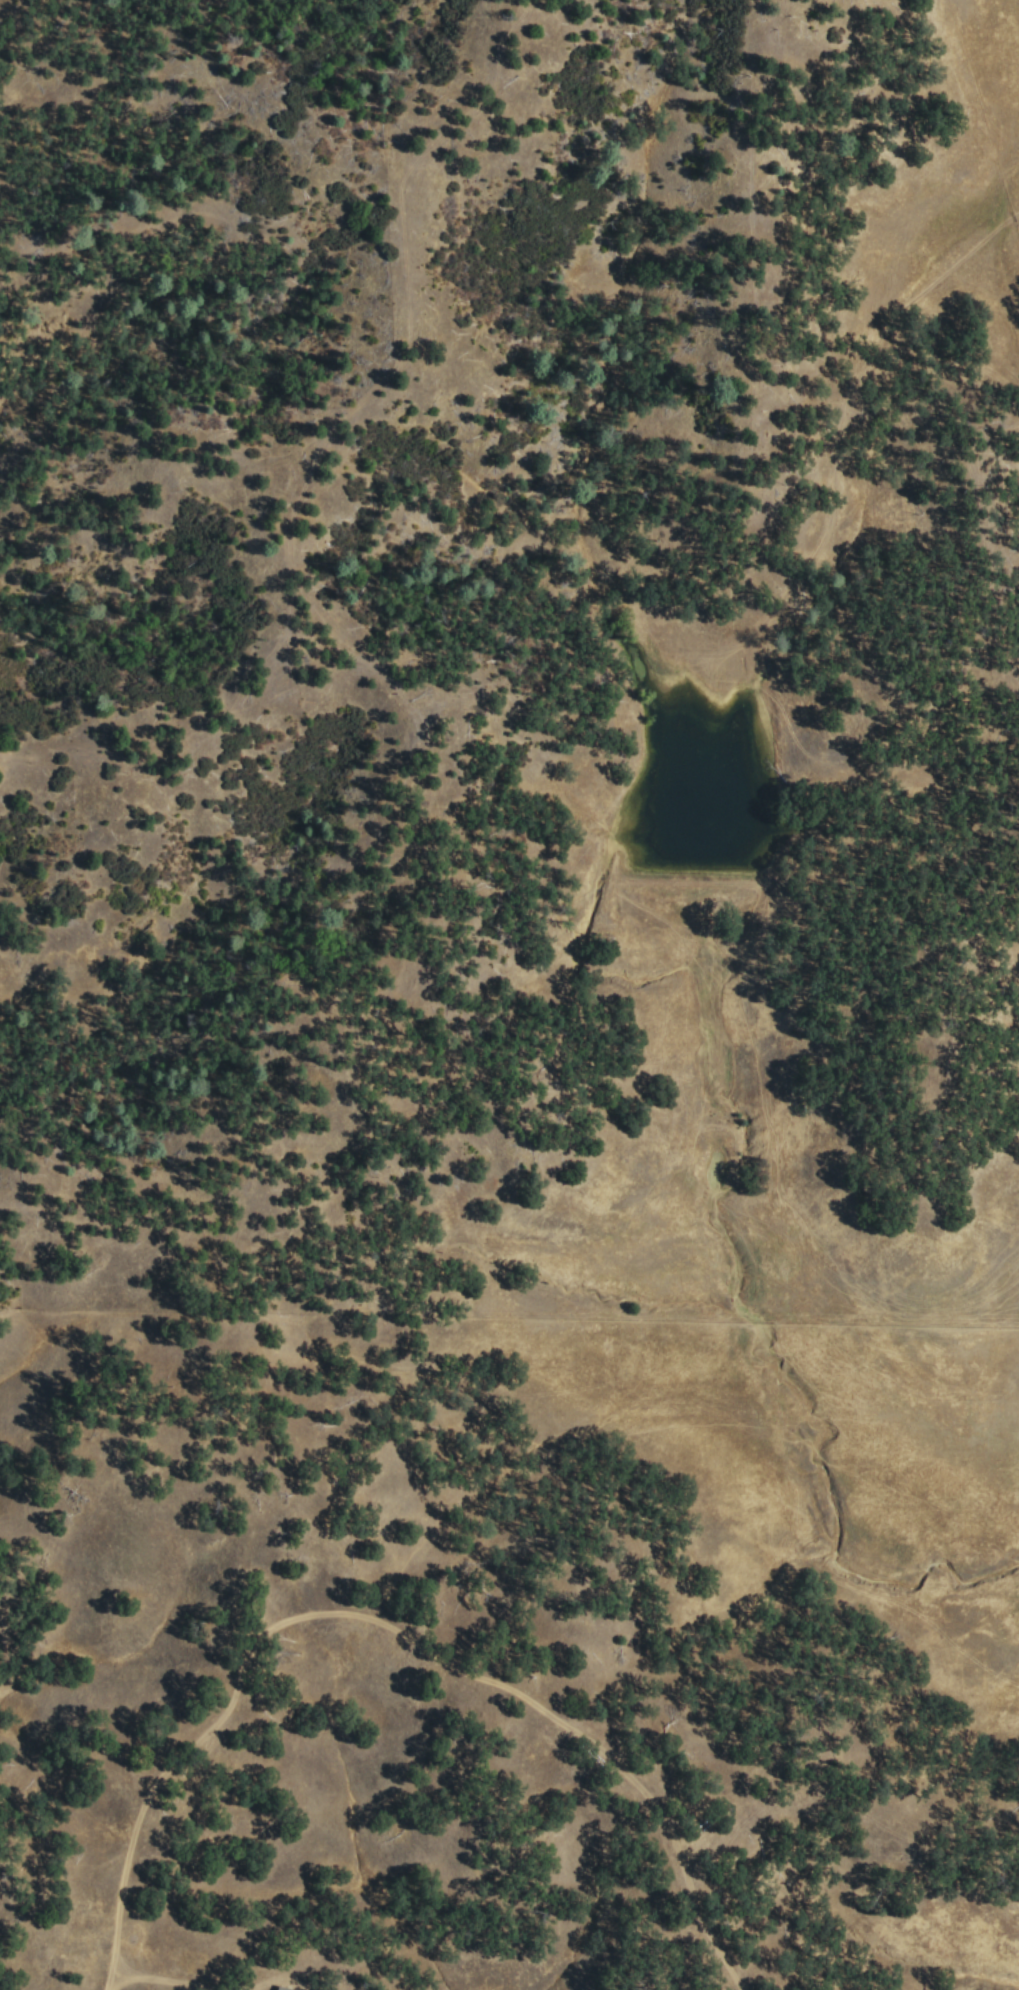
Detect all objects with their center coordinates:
road: (382, 1623)
road: (161, 1978)
building: (278, 1988)

